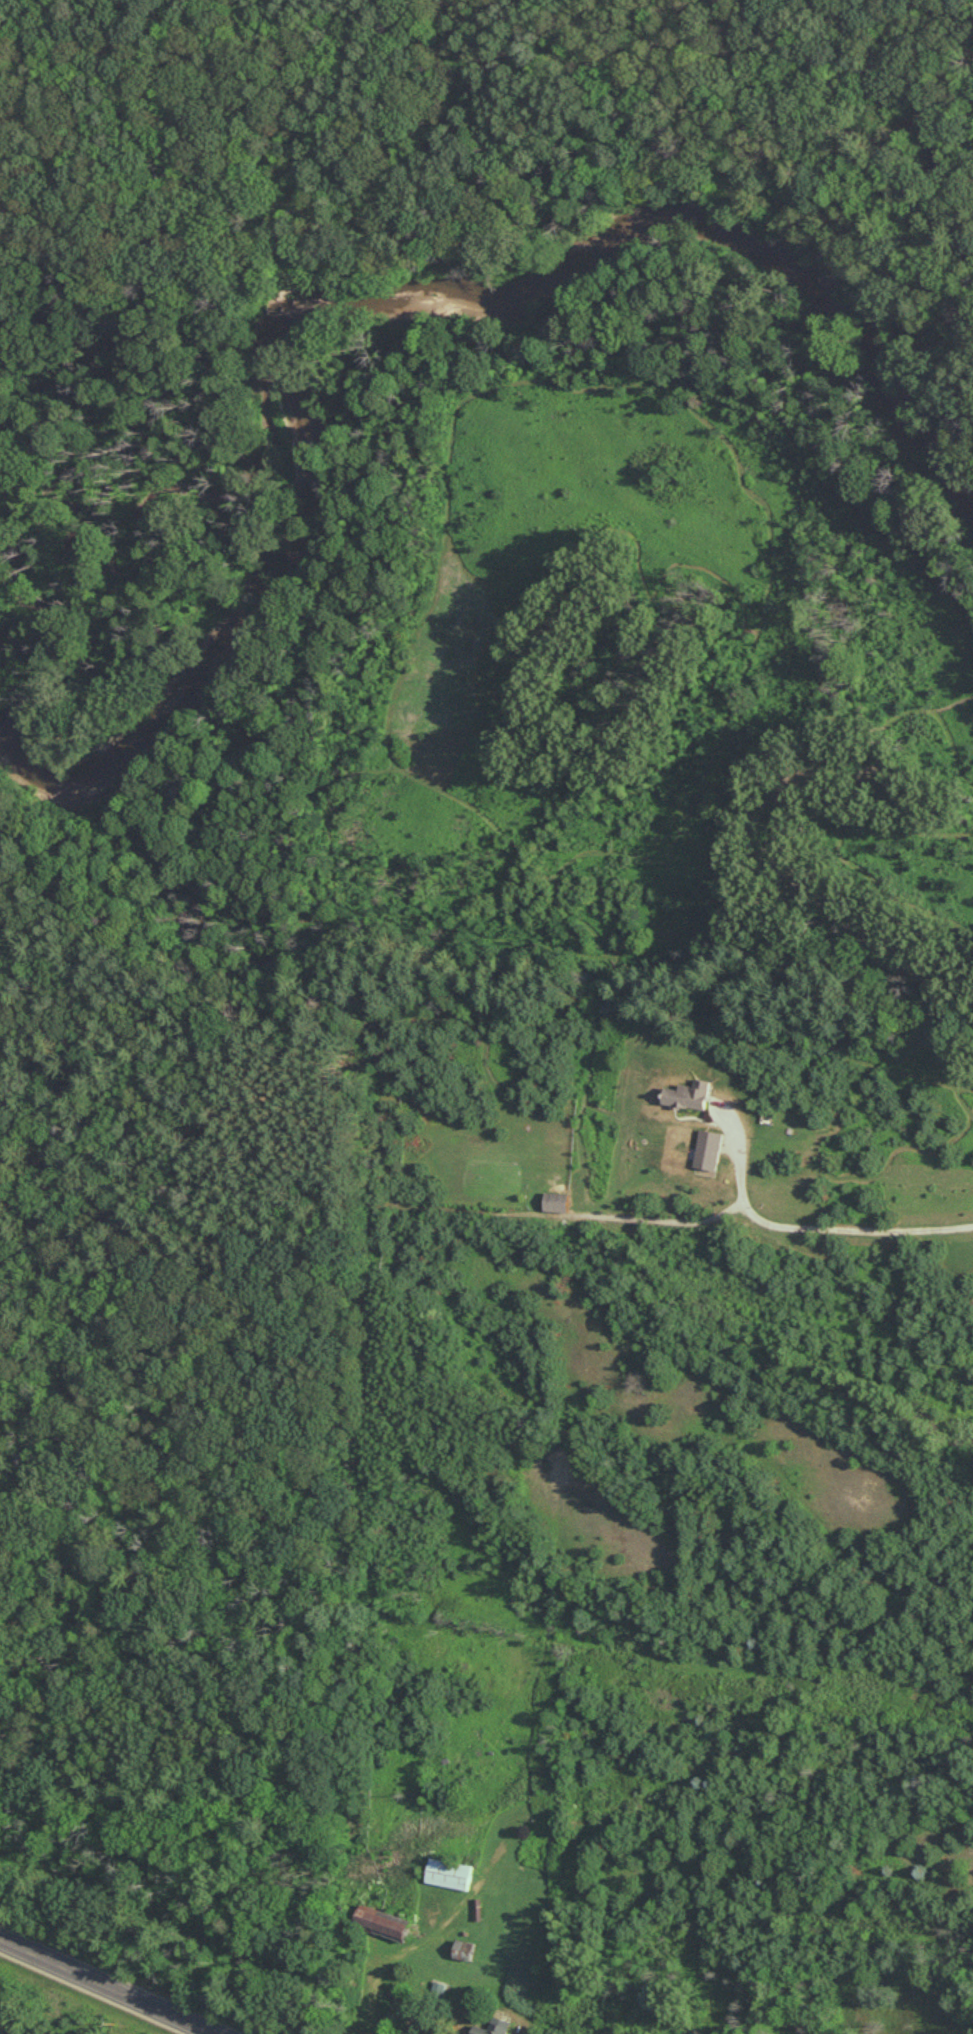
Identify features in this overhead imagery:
road: (435, 172)
road: (792, 172)
road: (498, 222)
river: (392, 299)
building: (689, 1095)
building: (709, 1150)
building: (557, 1202)
road: (802, 1227)
building: (450, 1874)
building: (383, 1923)
road: (108, 1986)
road: (375, 1998)
building: (494, 2027)

